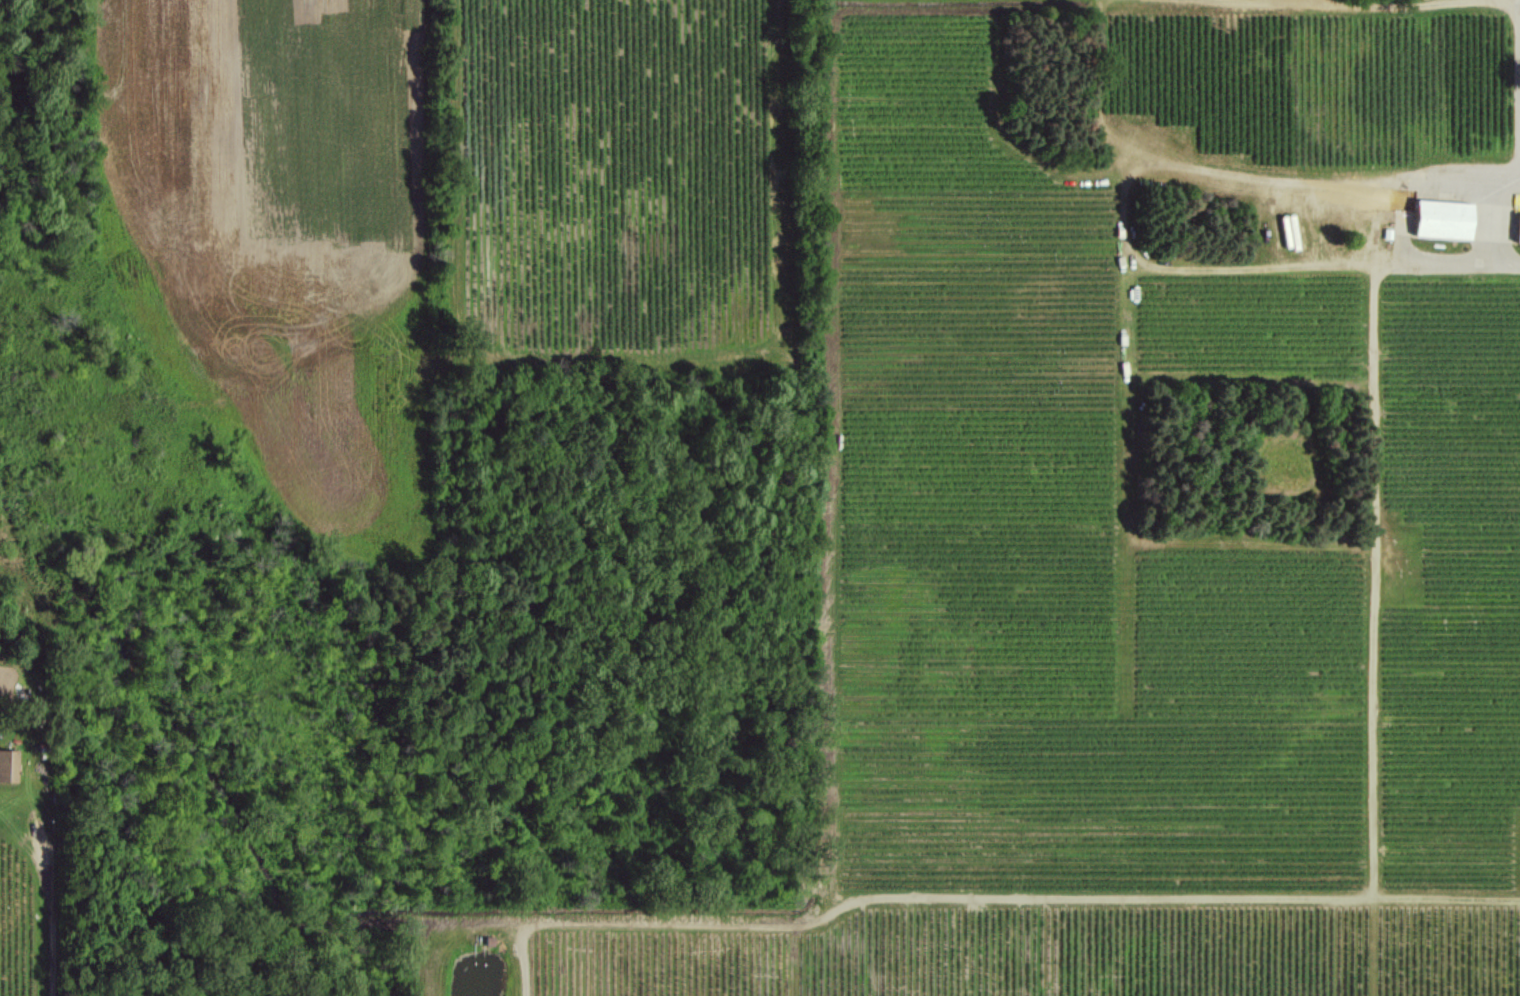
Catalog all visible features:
building: (1444, 218)
building: (1518, 229)
road: (1386, 230)
building: (8, 765)
road: (56, 913)

